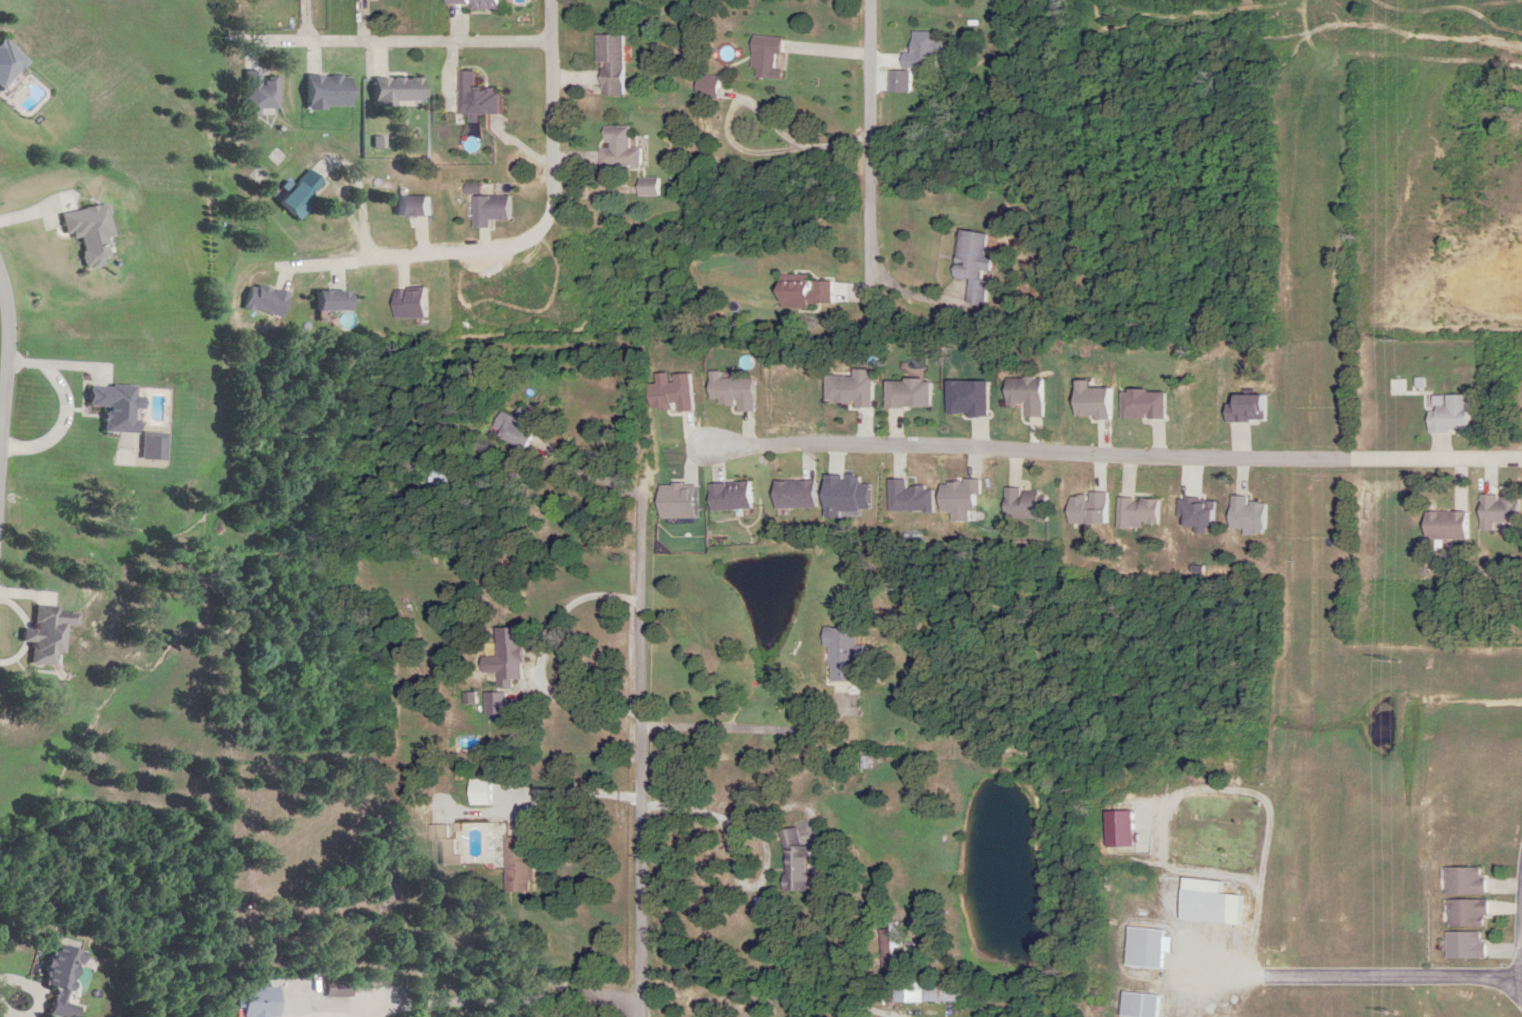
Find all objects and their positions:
building: (483, 3)
road: (412, 43)
building: (917, 52)
building: (762, 57)
building: (10, 63)
building: (612, 64)
building: (703, 87)
building: (260, 92)
road: (551, 101)
road: (872, 139)
road: (835, 146)
building: (615, 149)
road: (762, 152)
road: (451, 186)
building: (644, 187)
building: (304, 193)
building: (417, 206)
building: (494, 210)
road: (213, 222)
building: (91, 232)
building: (970, 266)
building: (791, 284)
road: (63, 328)
road: (6, 371)
building: (118, 408)
building: (525, 427)
road: (1001, 450)
road: (1406, 461)
building: (452, 481)
building: (1021, 506)
road: (1291, 506)
building: (1442, 526)
building: (49, 635)
building: (839, 654)
building: (517, 660)
building: (505, 705)
road: (756, 729)
road: (644, 750)
building: (492, 793)
road: (574, 795)
road: (736, 809)
building: (791, 861)
building: (515, 863)
building: (1462, 880)
building: (1202, 906)
building: (1464, 912)
building: (1461, 945)
building: (1141, 947)
road: (1518, 959)
building: (62, 976)
road: (1412, 982)
building: (338, 988)
building: (927, 990)
road: (509, 1002)
building: (1136, 1004)

